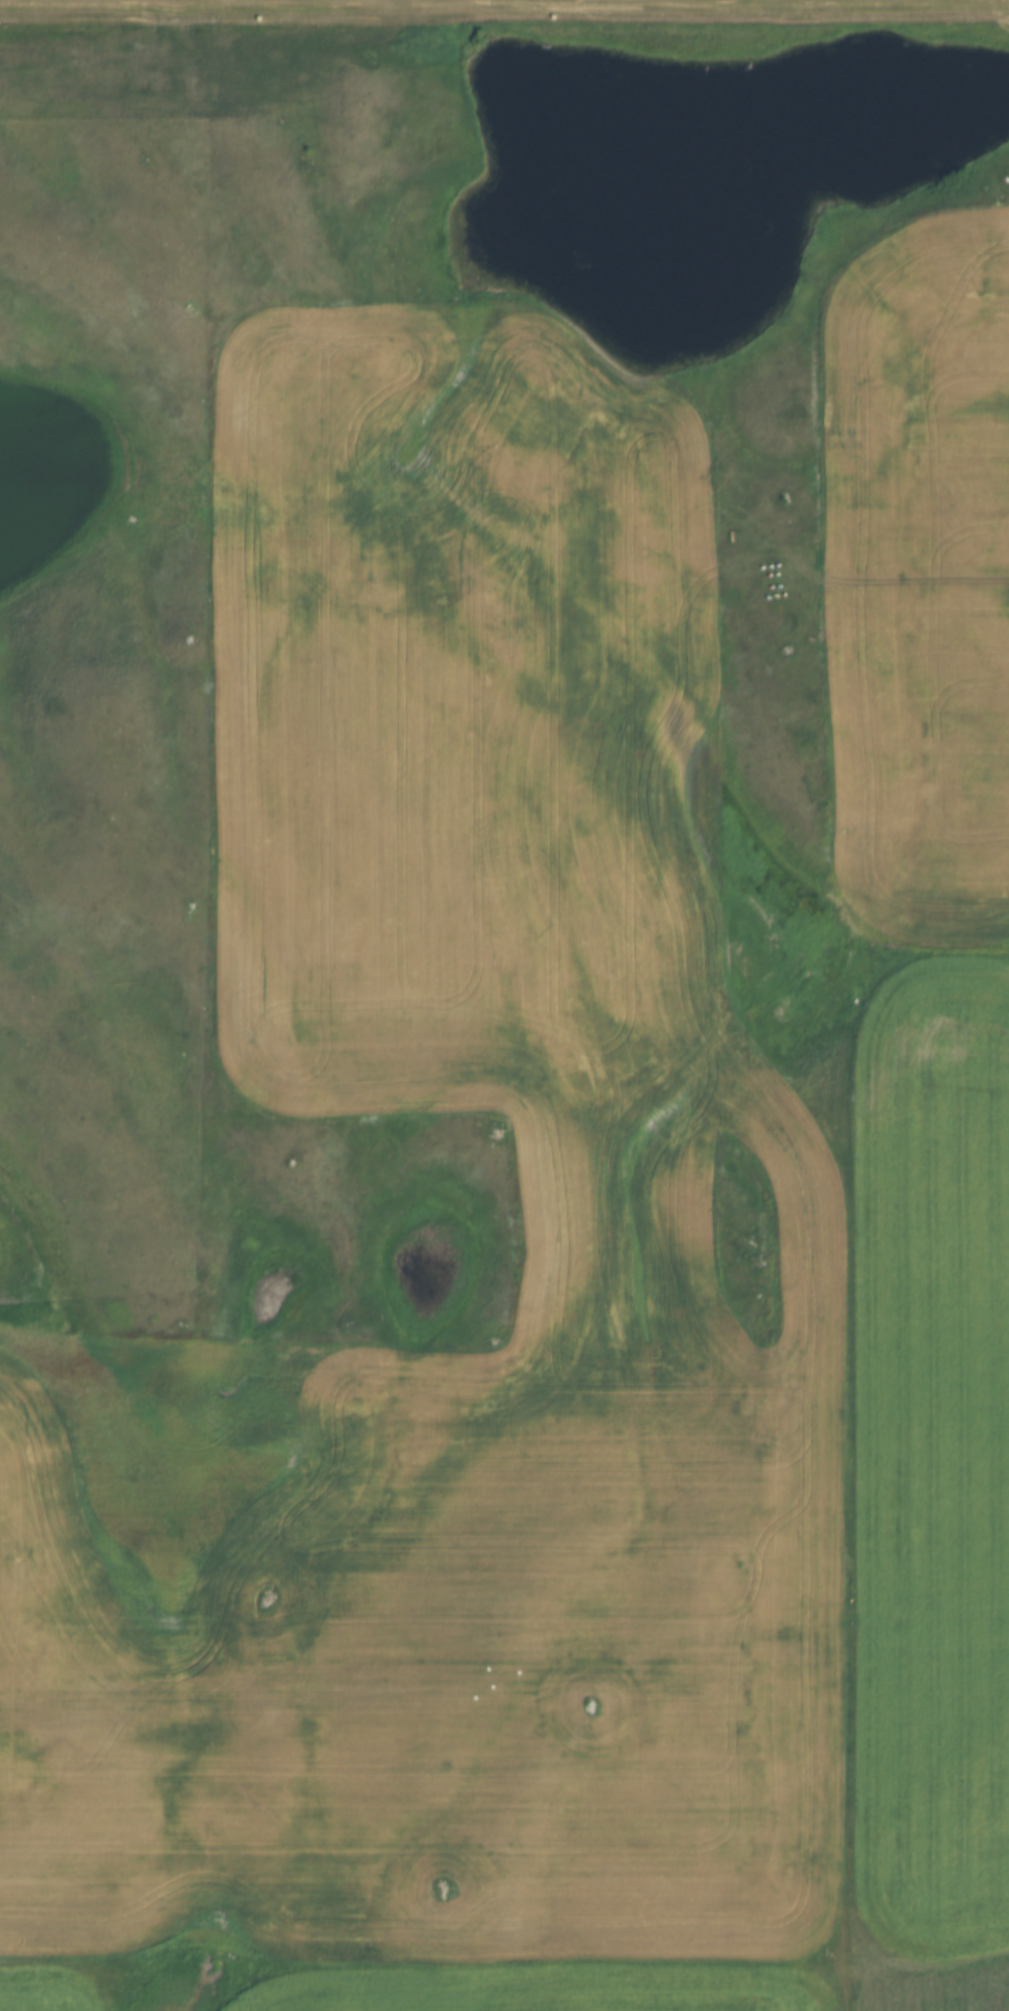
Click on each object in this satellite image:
road: (829, 1288)

